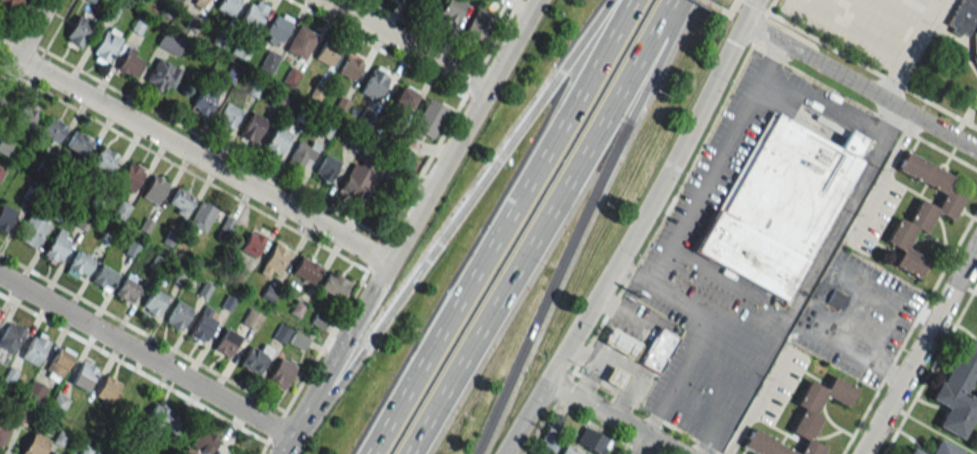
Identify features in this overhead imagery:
building: (197, 2)
building: (424, 2)
road: (792, 2)
building: (9, 3)
road: (710, 4)
building: (227, 6)
road: (768, 8)
building: (451, 10)
road: (728, 10)
building: (250, 19)
building: (964, 24)
building: (477, 25)
parking lot: (867, 25)
building: (276, 29)
road: (758, 29)
building: (78, 30)
road: (846, 32)
building: (300, 42)
building: (170, 43)
road: (24, 44)
road: (404, 44)
building: (105, 45)
road: (757, 48)
road: (907, 49)
building: (325, 53)
road: (772, 57)
building: (268, 62)
building: (130, 63)
road: (862, 64)
building: (348, 67)
building: (163, 75)
road: (91, 77)
building: (374, 83)
road: (859, 86)
building: (404, 99)
building: (202, 102)
road: (879, 115)
building: (26, 116)
road: (837, 116)
building: (227, 117)
building: (429, 118)
building: (252, 128)
building: (52, 129)
road: (460, 131)
building: (276, 140)
building: (77, 143)
building: (302, 154)
road: (193, 155)
building: (104, 159)
road: (716, 164)
building: (326, 167)
road: (183, 168)
building: (130, 176)
road: (882, 178)
building: (356, 179)
building: (154, 189)
road: (654, 192)
building: (179, 201)
building: (776, 205)
road: (663, 210)
building: (918, 212)
road: (460, 213)
building: (5, 217)
building: (201, 217)
building: (227, 224)
road: (579, 225)
road: (502, 227)
road: (542, 227)
building: (31, 230)
parking lot: (749, 240)
building: (251, 243)
road: (824, 243)
building: (57, 245)
building: (273, 261)
building: (79, 265)
building: (305, 269)
road: (382, 273)
building: (103, 278)
building: (334, 285)
building: (128, 288)
building: (834, 297)
road: (851, 298)
building: (153, 302)
building: (177, 315)
building: (251, 320)
building: (203, 324)
road: (142, 332)
road: (743, 334)
building: (11, 336)
building: (298, 340)
building: (226, 343)
building: (620, 344)
building: (34, 348)
building: (657, 349)
road: (919, 349)
road: (338, 352)
road: (146, 356)
building: (255, 358)
building: (58, 363)
building: (280, 373)
building: (83, 376)
building: (615, 377)
road: (680, 377)
road: (563, 387)
building: (107, 389)
building: (957, 390)
building: (34, 391)
building: (58, 403)
building: (157, 414)
road: (220, 416)
building: (805, 416)
road: (526, 417)
road: (613, 417)
building: (555, 422)
building: (176, 425)
road: (541, 426)
building: (3, 432)
road: (292, 437)
building: (202, 441)
building: (548, 441)
building: (591, 441)
building: (34, 444)
road: (643, 445)
building: (761, 445)
building: (942, 448)
building: (238, 451)
building: (567, 451)
building: (913, 451)
building: (52, 453)

